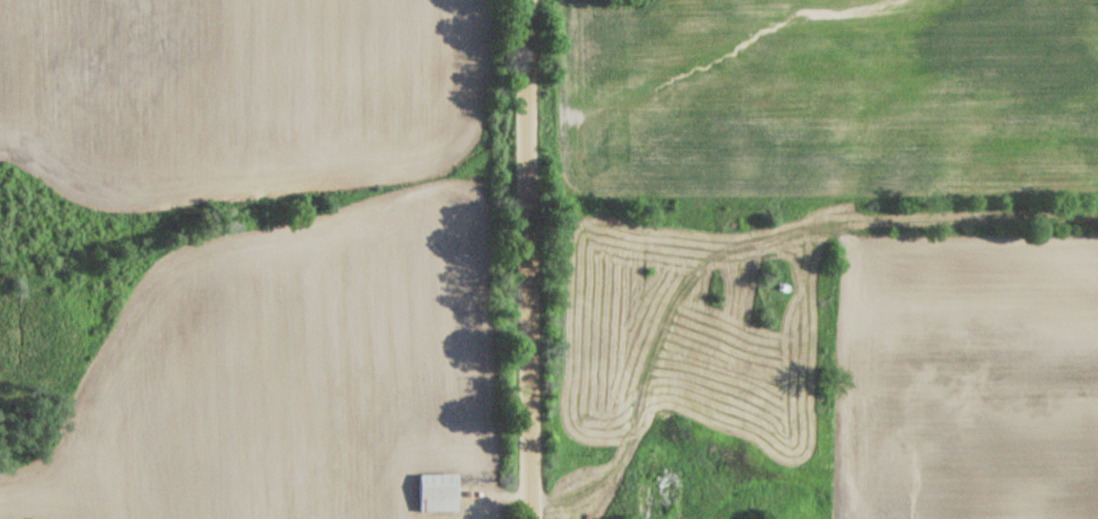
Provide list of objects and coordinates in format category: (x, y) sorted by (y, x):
road: (530, 259)
road: (587, 487)
building: (435, 492)
road: (512, 495)

